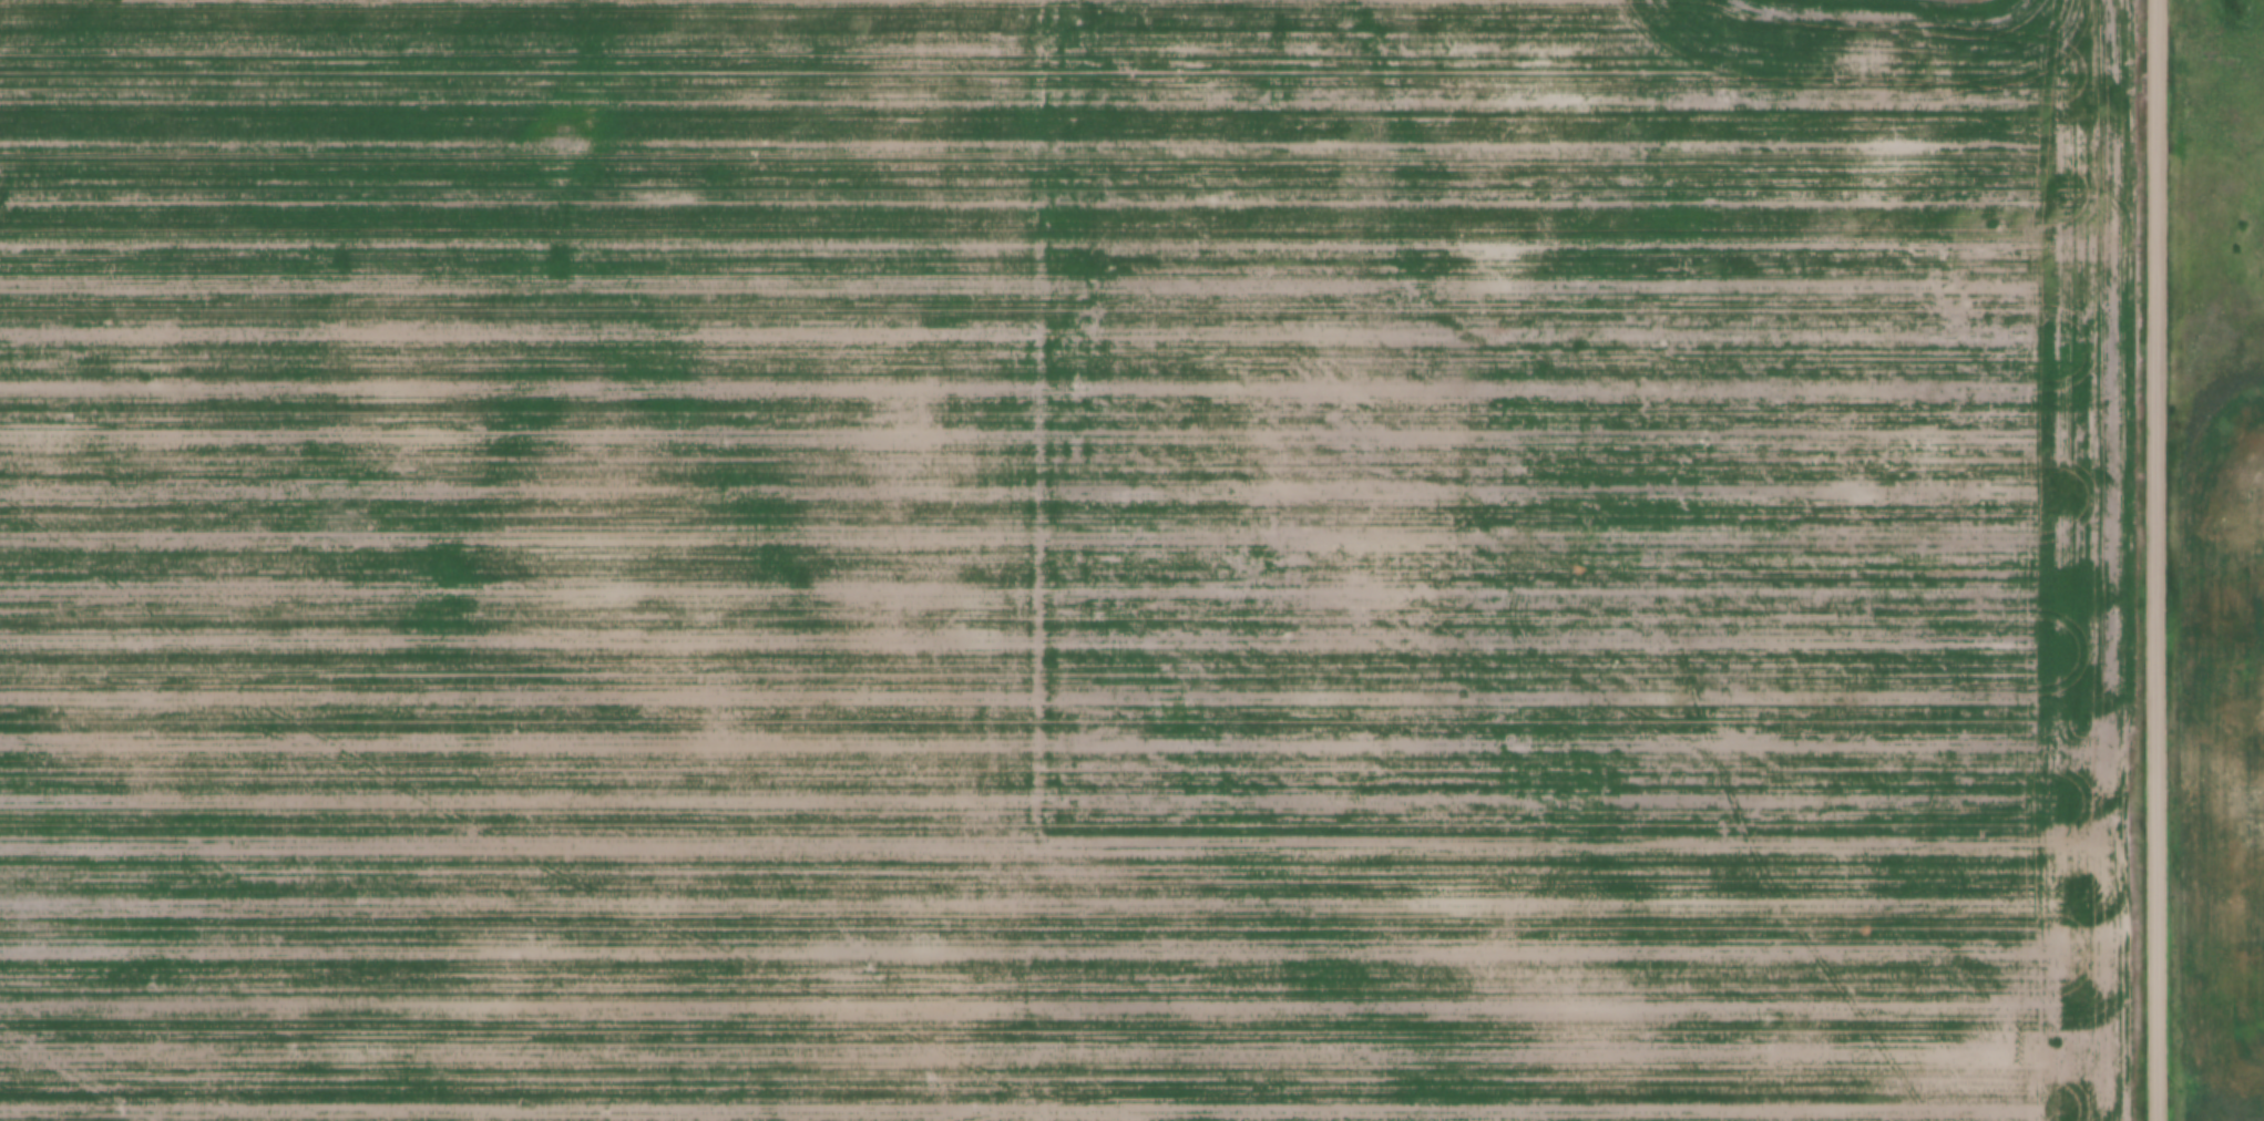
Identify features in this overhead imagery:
road: (2158, 560)

